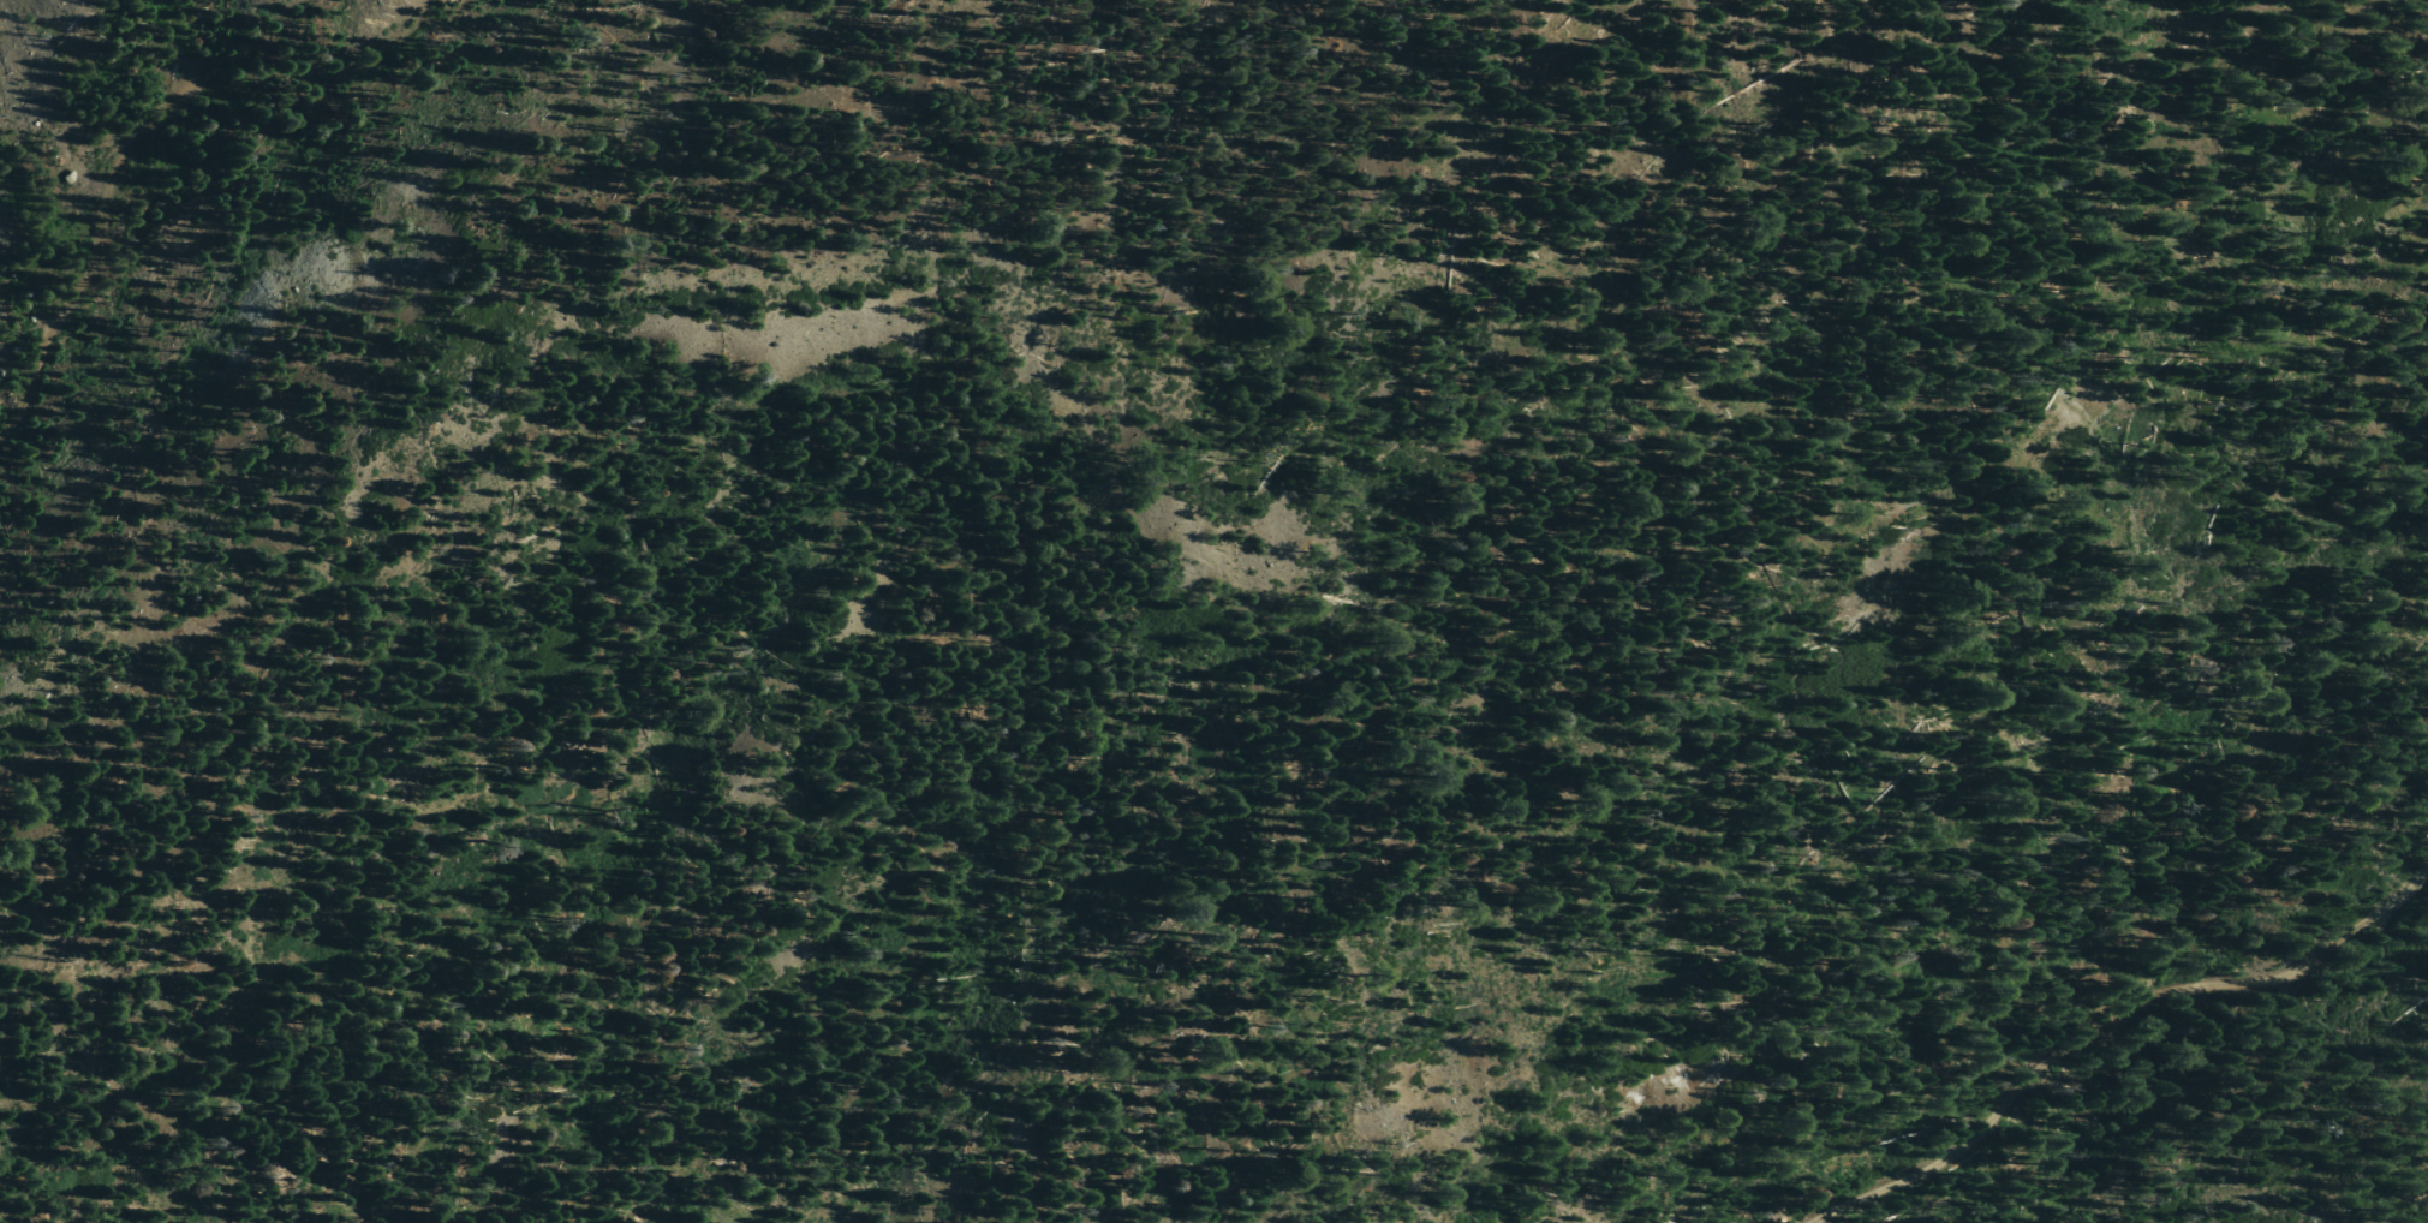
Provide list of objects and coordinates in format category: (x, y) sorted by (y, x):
road: (2094, 1001)

